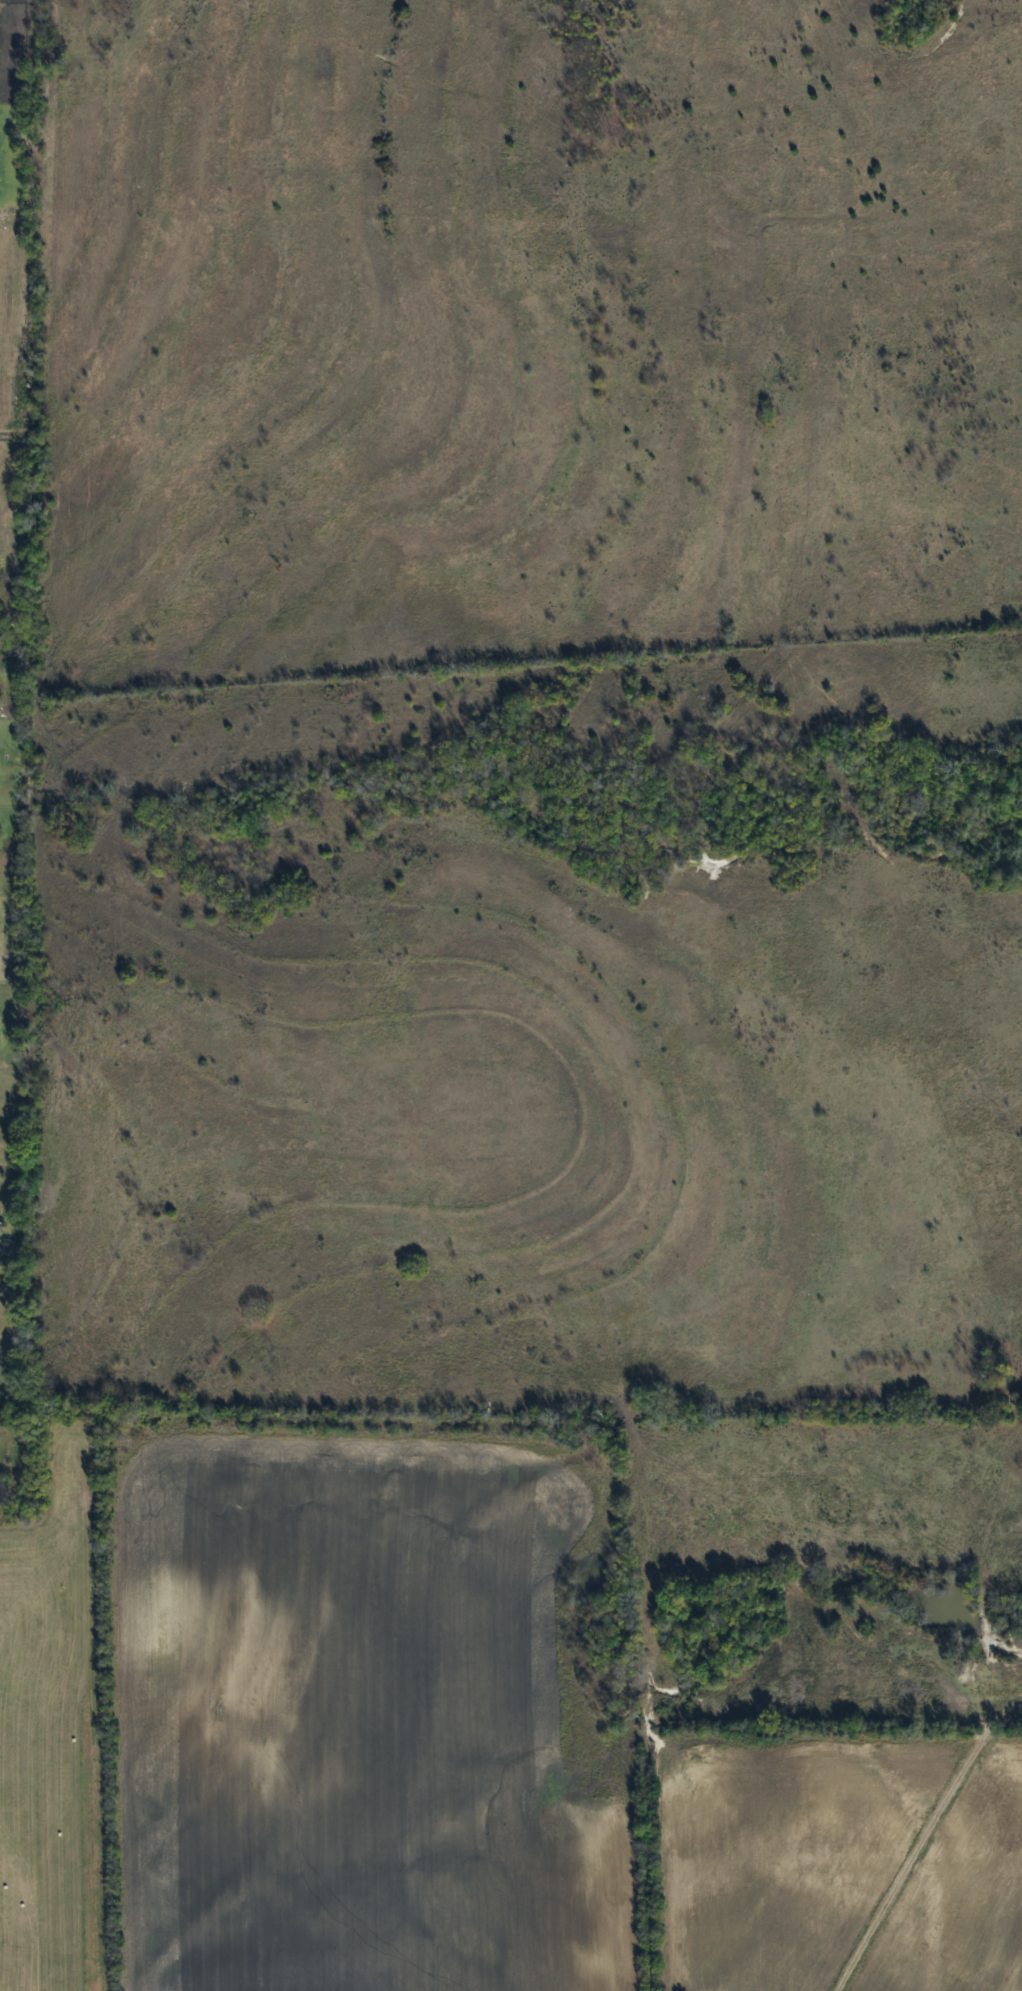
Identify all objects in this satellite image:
road: (922, 1842)

